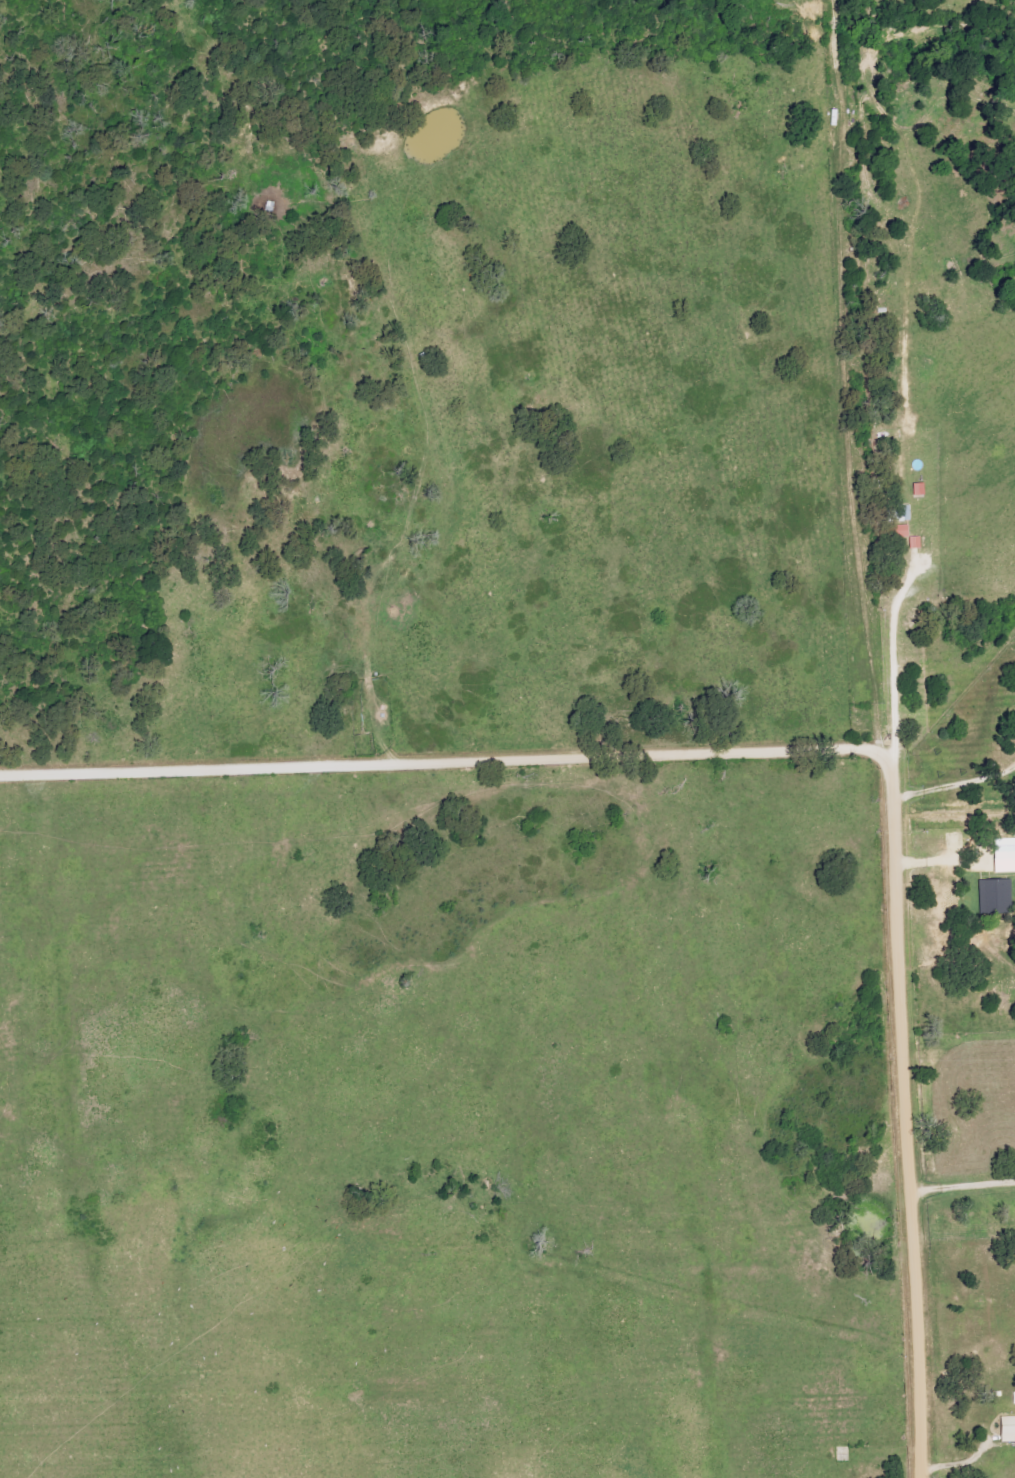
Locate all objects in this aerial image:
road: (849, 444)
road: (890, 655)
road: (805, 750)
road: (952, 785)
building: (1006, 854)
road: (939, 862)
building: (998, 895)
road: (961, 1172)
building: (1009, 1429)

